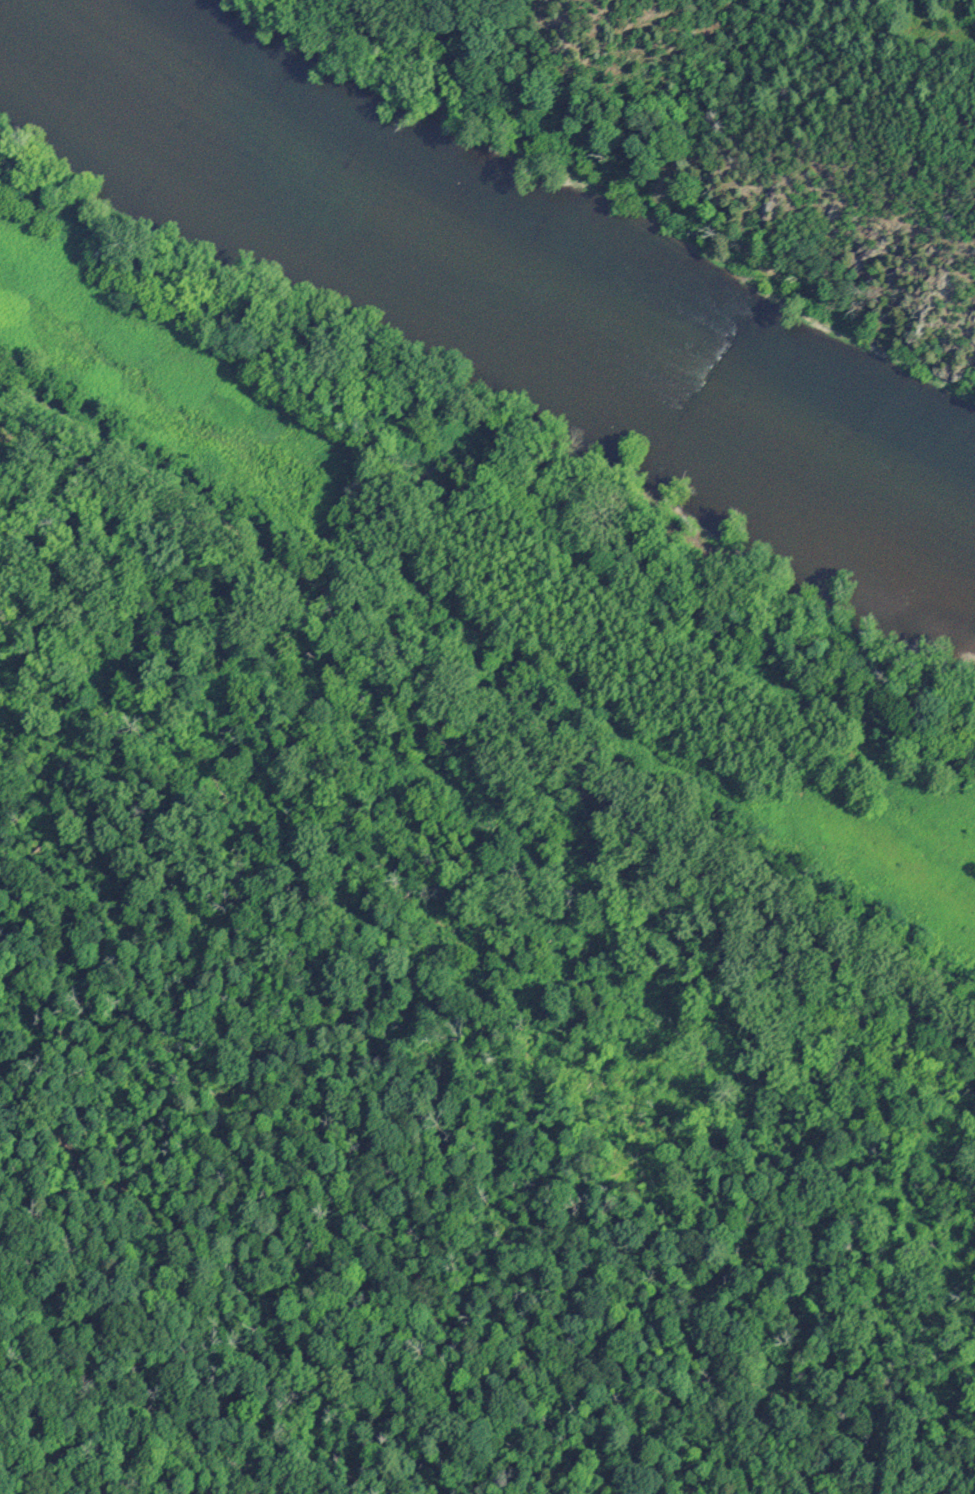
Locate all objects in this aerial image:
river: (495, 267)
road: (487, 696)
road: (118, 1379)

